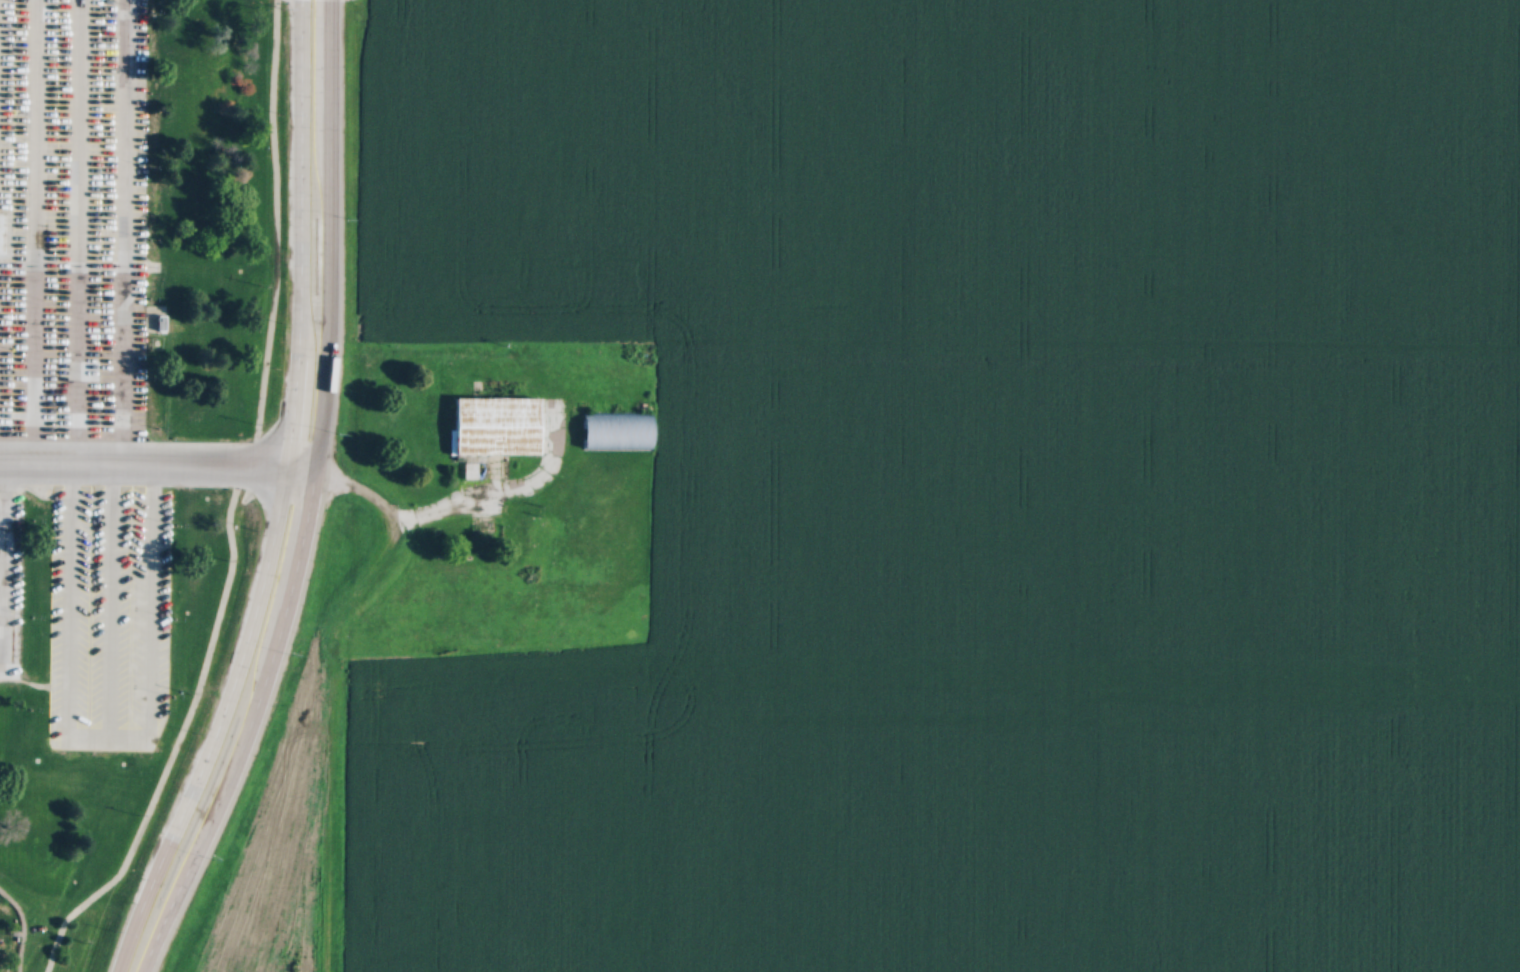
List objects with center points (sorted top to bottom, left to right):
street lamp: (282, 110)
street lamp: (347, 214)
street lamp: (282, 319)
building: (494, 422)
building: (614, 427)
street lamp: (340, 430)
road: (311, 463)
road: (141, 468)
road: (282, 471)
crop: (974, 487)
road: (486, 498)
road: (225, 507)
street lamp: (255, 526)
street lamp: (291, 651)
road: (330, 674)
street lamp: (195, 728)
street lamp: (213, 856)
street lamp: (113, 926)
road: (19, 927)
road: (153, 937)
road: (122, 944)

